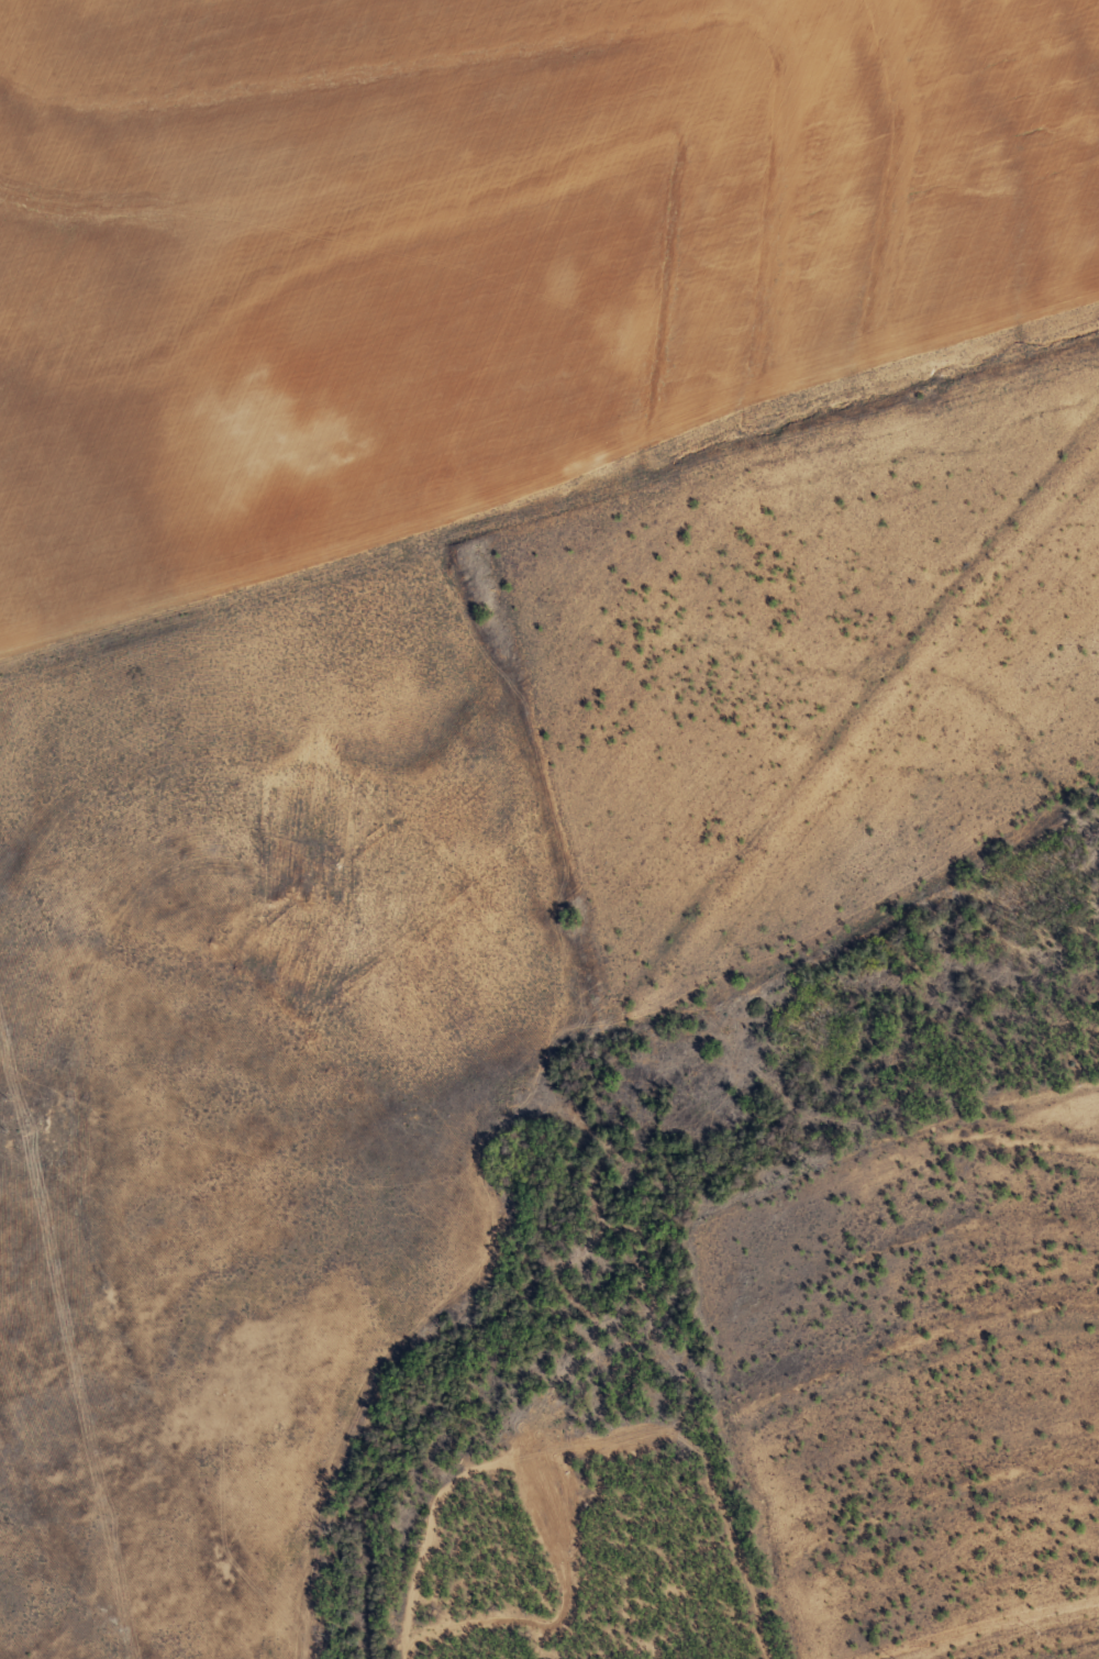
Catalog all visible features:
road: (411, 246)

